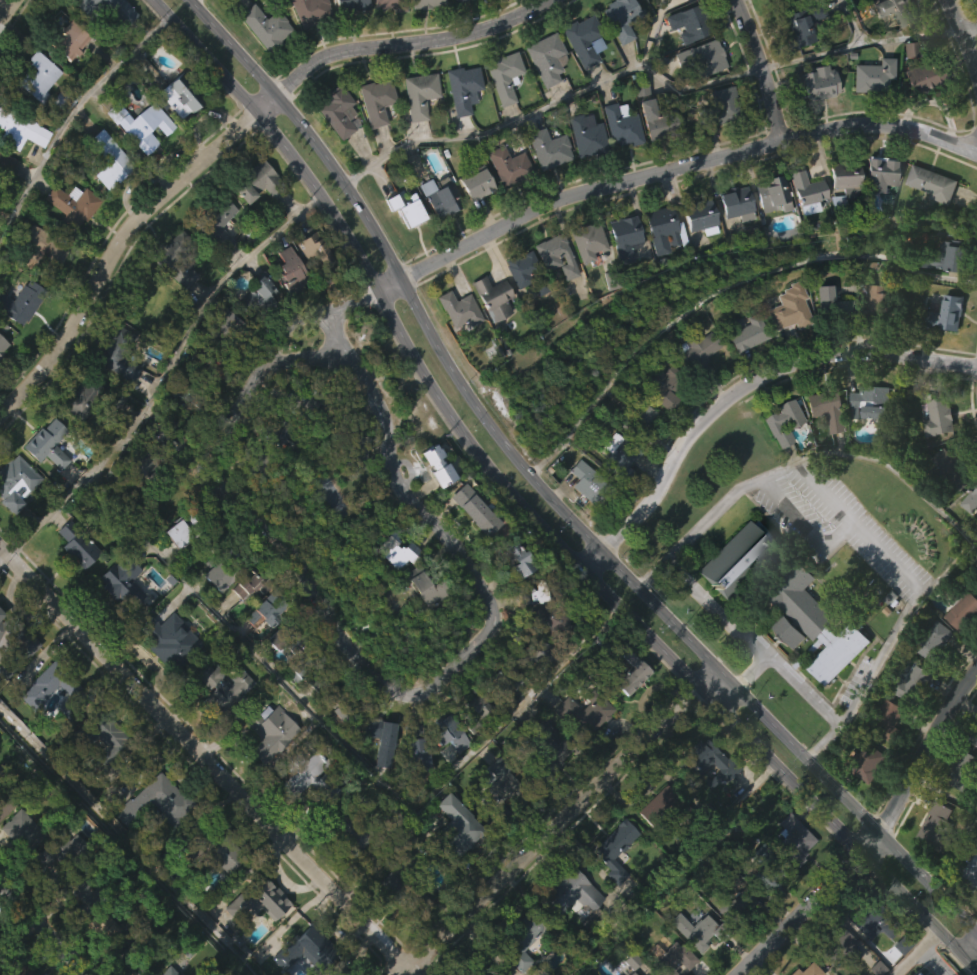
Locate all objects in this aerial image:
building: (772, 0)
building: (455, 1)
building: (781, 1)
building: (524, 2)
building: (425, 3)
building: (351, 4)
building: (388, 4)
building: (497, 8)
building: (114, 9)
building: (307, 10)
building: (900, 10)
building: (973, 11)
building: (880, 12)
road: (8, 14)
building: (621, 18)
road: (850, 19)
building: (668, 20)
building: (688, 21)
building: (261, 24)
building: (804, 24)
building: (381, 26)
road: (970, 31)
building: (344, 32)
building: (423, 33)
building: (74, 34)
road: (962, 34)
building: (100, 39)
building: (580, 39)
road: (861, 39)
building: (303, 41)
building: (891, 46)
building: (616, 54)
building: (700, 56)
building: (543, 57)
building: (683, 61)
building: (798, 62)
building: (261, 64)
road: (763, 69)
building: (41, 74)
building: (503, 75)
building: (871, 75)
building: (926, 76)
building: (580, 78)
building: (67, 79)
building: (821, 82)
building: (905, 87)
building: (463, 89)
building: (184, 93)
building: (699, 93)
building: (416, 94)
building: (70, 96)
building: (541, 96)
building: (374, 100)
road: (551, 101)
building: (716, 106)
building: (869, 112)
building: (339, 113)
building: (35, 114)
building: (500, 114)
building: (917, 114)
road: (70, 120)
building: (659, 120)
building: (816, 120)
building: (144, 124)
building: (459, 125)
building: (619, 125)
building: (20, 128)
building: (416, 131)
building: (176, 134)
building: (584, 134)
road: (225, 136)
building: (372, 138)
building: (718, 142)
building: (548, 148)
building: (334, 150)
building: (650, 157)
building: (112, 160)
building: (8, 161)
building: (617, 162)
building: (141, 164)
building: (506, 165)
road: (680, 168)
building: (583, 172)
building: (881, 173)
building: (845, 181)
building: (257, 183)
building: (932, 183)
building: (473, 184)
building: (545, 186)
building: (808, 192)
building: (773, 194)
building: (106, 197)
building: (440, 197)
building: (6, 201)
building: (504, 202)
building: (737, 203)
building: (75, 204)
building: (406, 208)
building: (876, 208)
building: (700, 216)
building: (840, 219)
building: (253, 220)
building: (473, 221)
building: (929, 221)
building: (216, 223)
building: (660, 228)
building: (801, 229)
building: (767, 231)
building: (436, 234)
building: (625, 236)
building: (389, 239)
building: (588, 241)
building: (731, 241)
building: (68, 243)
building: (46, 246)
building: (407, 248)
building: (554, 254)
building: (695, 254)
building: (948, 257)
building: (319, 258)
building: (176, 259)
building: (214, 262)
building: (657, 267)
building: (291, 270)
building: (524, 272)
building: (620, 274)
building: (584, 278)
building: (40, 286)
building: (310, 287)
building: (553, 293)
building: (259, 294)
building: (943, 294)
building: (491, 296)
building: (172, 298)
building: (880, 301)
building: (23, 303)
building: (518, 306)
building: (288, 308)
building: (790, 308)
building: (457, 309)
building: (946, 314)
building: (222, 330)
building: (257, 331)
building: (745, 332)
building: (489, 335)
building: (874, 338)
building: (829, 343)
building: (2, 345)
building: (455, 346)
building: (786, 347)
road: (282, 349)
building: (696, 351)
building: (943, 352)
building: (121, 354)
road: (305, 355)
building: (224, 359)
building: (203, 370)
building: (745, 371)
road: (163, 376)
building: (1, 383)
building: (665, 388)
building: (694, 388)
building: (114, 391)
road: (740, 394)
building: (184, 397)
building: (93, 398)
building: (302, 400)
building: (869, 403)
building: (828, 408)
building: (938, 417)
building: (635, 421)
building: (783, 421)
building: (664, 425)
building: (159, 431)
building: (77, 435)
building: (110, 439)
building: (305, 439)
building: (868, 440)
building: (48, 443)
building: (827, 449)
building: (639, 452)
building: (269, 455)
building: (935, 455)
building: (617, 456)
building: (778, 459)
building: (142, 463)
building: (437, 463)
building: (952, 468)
building: (16, 481)
building: (586, 481)
building: (44, 482)
building: (617, 491)
road: (545, 499)
building: (432, 501)
building: (970, 501)
building: (948, 507)
building: (475, 508)
road: (526, 516)
building: (13, 519)
building: (583, 519)
road: (857, 526)
building: (182, 528)
building: (969, 537)
building: (80, 545)
building: (396, 548)
building: (473, 550)
building: (517, 556)
road: (5, 559)
building: (737, 560)
building: (224, 569)
building: (174, 571)
building: (122, 581)
building: (425, 584)
building: (250, 586)
building: (76, 588)
building: (391, 588)
building: (535, 592)
building: (730, 594)
building: (512, 595)
building: (269, 608)
building: (962, 611)
building: (214, 613)
building: (547, 619)
building: (118, 621)
building: (242, 623)
building: (814, 623)
building: (420, 626)
building: (531, 630)
building: (285, 636)
road: (752, 640)
building: (167, 641)
building: (933, 641)
building: (15, 644)
road: (476, 645)
building: (266, 647)
building: (797, 648)
building: (960, 649)
building: (535, 654)
building: (628, 664)
road: (748, 671)
building: (307, 672)
building: (16, 676)
building: (166, 678)
road: (704, 678)
building: (913, 683)
building: (502, 684)
building: (219, 685)
building: (41, 691)
building: (533, 692)
building: (836, 692)
building: (920, 699)
building: (341, 704)
building: (626, 706)
building: (582, 713)
building: (470, 715)
building: (498, 716)
building: (890, 721)
building: (216, 724)
building: (35, 728)
building: (267, 732)
building: (973, 738)
building: (106, 740)
building: (472, 748)
building: (411, 749)
building: (542, 752)
building: (577, 752)
building: (866, 756)
building: (884, 757)
building: (704, 764)
building: (266, 769)
building: (445, 770)
building: (964, 772)
building: (98, 773)
building: (310, 777)
building: (377, 777)
building: (543, 780)
building: (504, 789)
building: (412, 790)
building: (867, 794)
building: (153, 802)
building: (702, 802)
building: (7, 805)
building: (664, 807)
building: (960, 808)
building: (305, 814)
building: (496, 820)
building: (936, 825)
building: (345, 828)
building: (455, 829)
building: (24, 830)
building: (795, 839)
road: (875, 839)
building: (150, 840)
building: (655, 843)
building: (221, 847)
building: (615, 848)
building: (63, 852)
building: (761, 859)
building: (933, 863)
building: (451, 864)
building: (19, 868)
building: (789, 876)
building: (969, 876)
building: (403, 884)
building: (611, 886)
building: (52, 889)
building: (217, 895)
road: (341, 895)
building: (572, 896)
building: (87, 898)
building: (254, 898)
building: (735, 907)
building: (970, 908)
building: (872, 920)
building: (72, 926)
building: (106, 927)
building: (568, 932)
building: (254, 937)
building: (522, 937)
road: (37, 939)
building: (0, 944)
building: (302, 946)
building: (837, 946)
road: (912, 952)
road: (970, 952)
building: (140, 957)
building: (670, 959)
road: (931, 961)
building: (871, 962)
building: (100, 963)
building: (14, 965)
building: (521, 965)
building: (715, 967)
building: (304, 970)
building: (809, 970)
building: (167, 971)
building: (693, 971)
building: (837, 971)
building: (629, 973)
building: (899, 973)
building: (912, 973)
building: (339, 974)
building: (479, 974)

